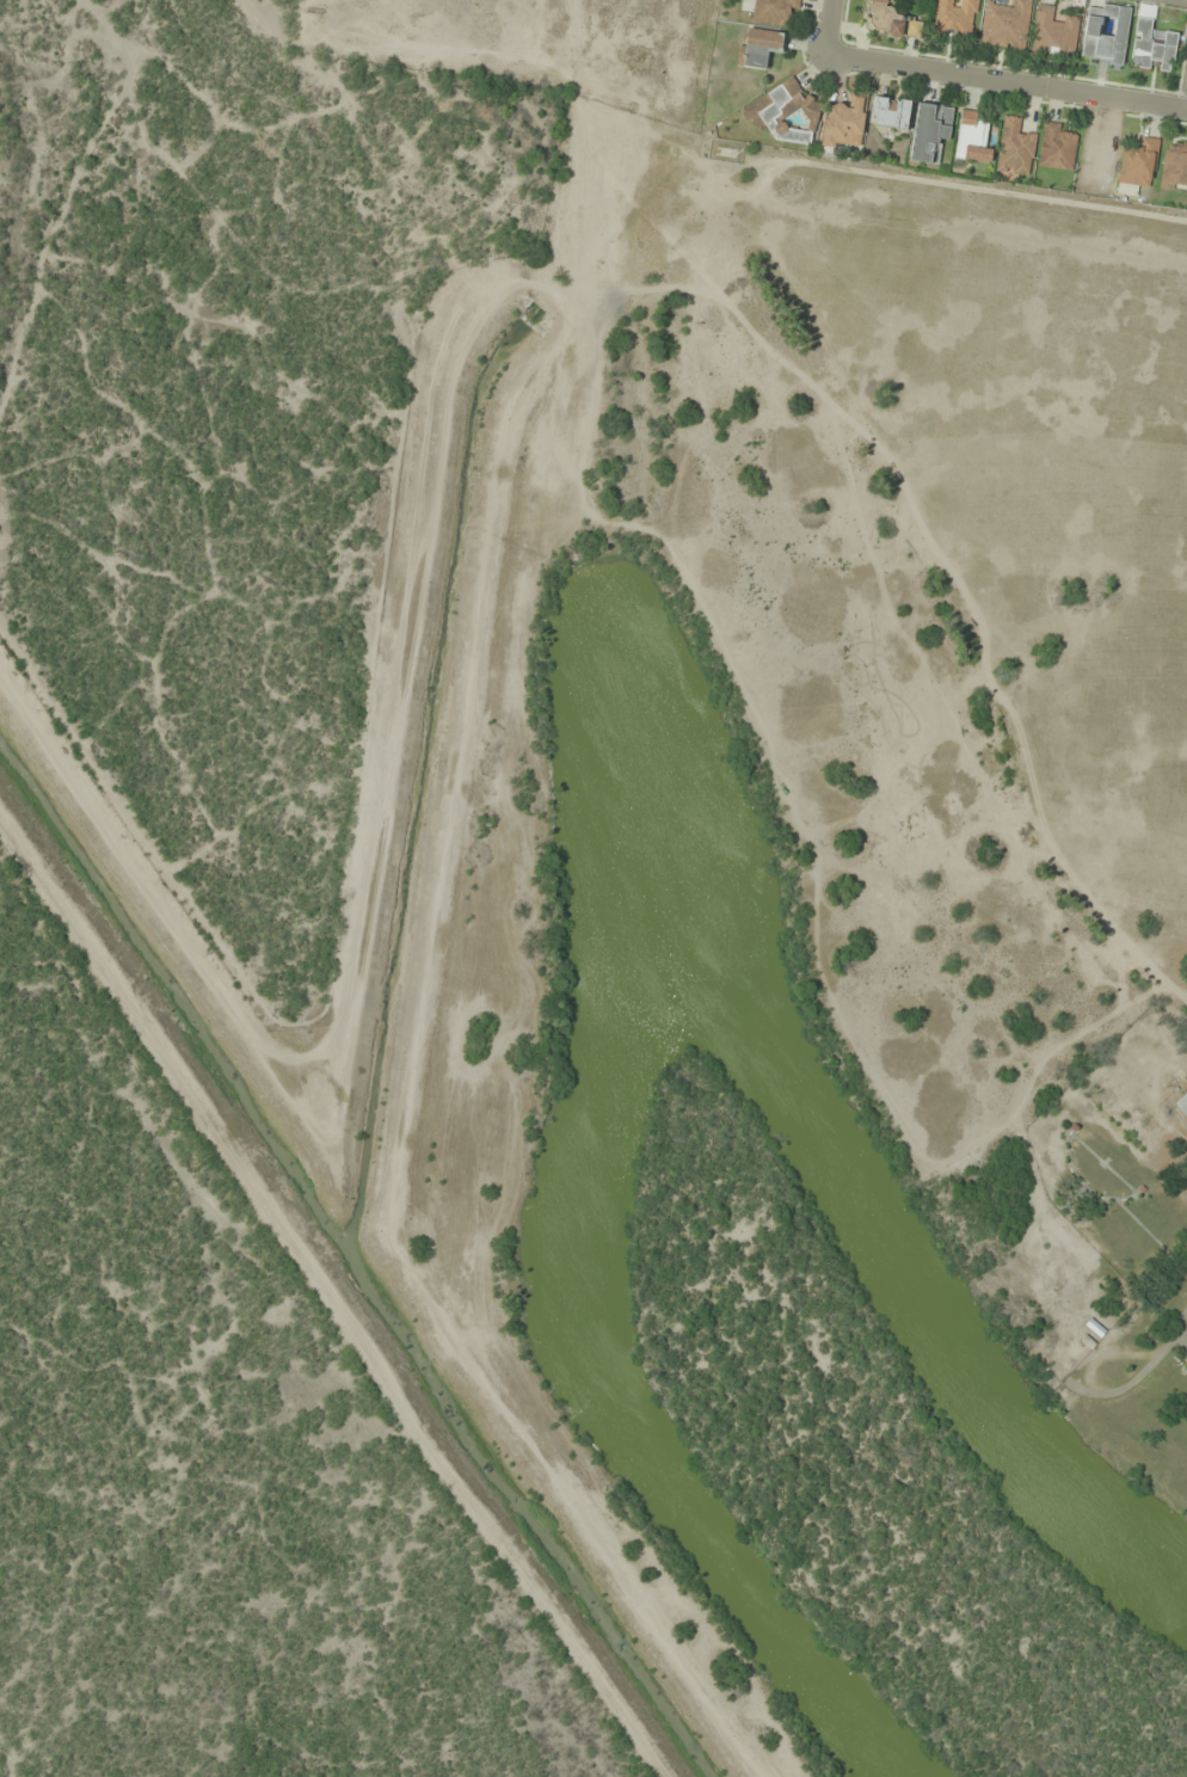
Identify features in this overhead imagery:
road: (1173, 1)
building: (773, 11)
building: (954, 18)
building: (888, 20)
building: (1005, 25)
road: (825, 27)
building: (1052, 33)
building: (1105, 35)
building: (759, 47)
building: (1151, 47)
road: (1003, 84)
road: (1186, 107)
building: (782, 112)
building: (888, 112)
building: (843, 123)
building: (929, 131)
building: (973, 136)
building: (1056, 147)
building: (1014, 148)
building: (1137, 164)
building: (1174, 166)
building: (1182, 1105)

